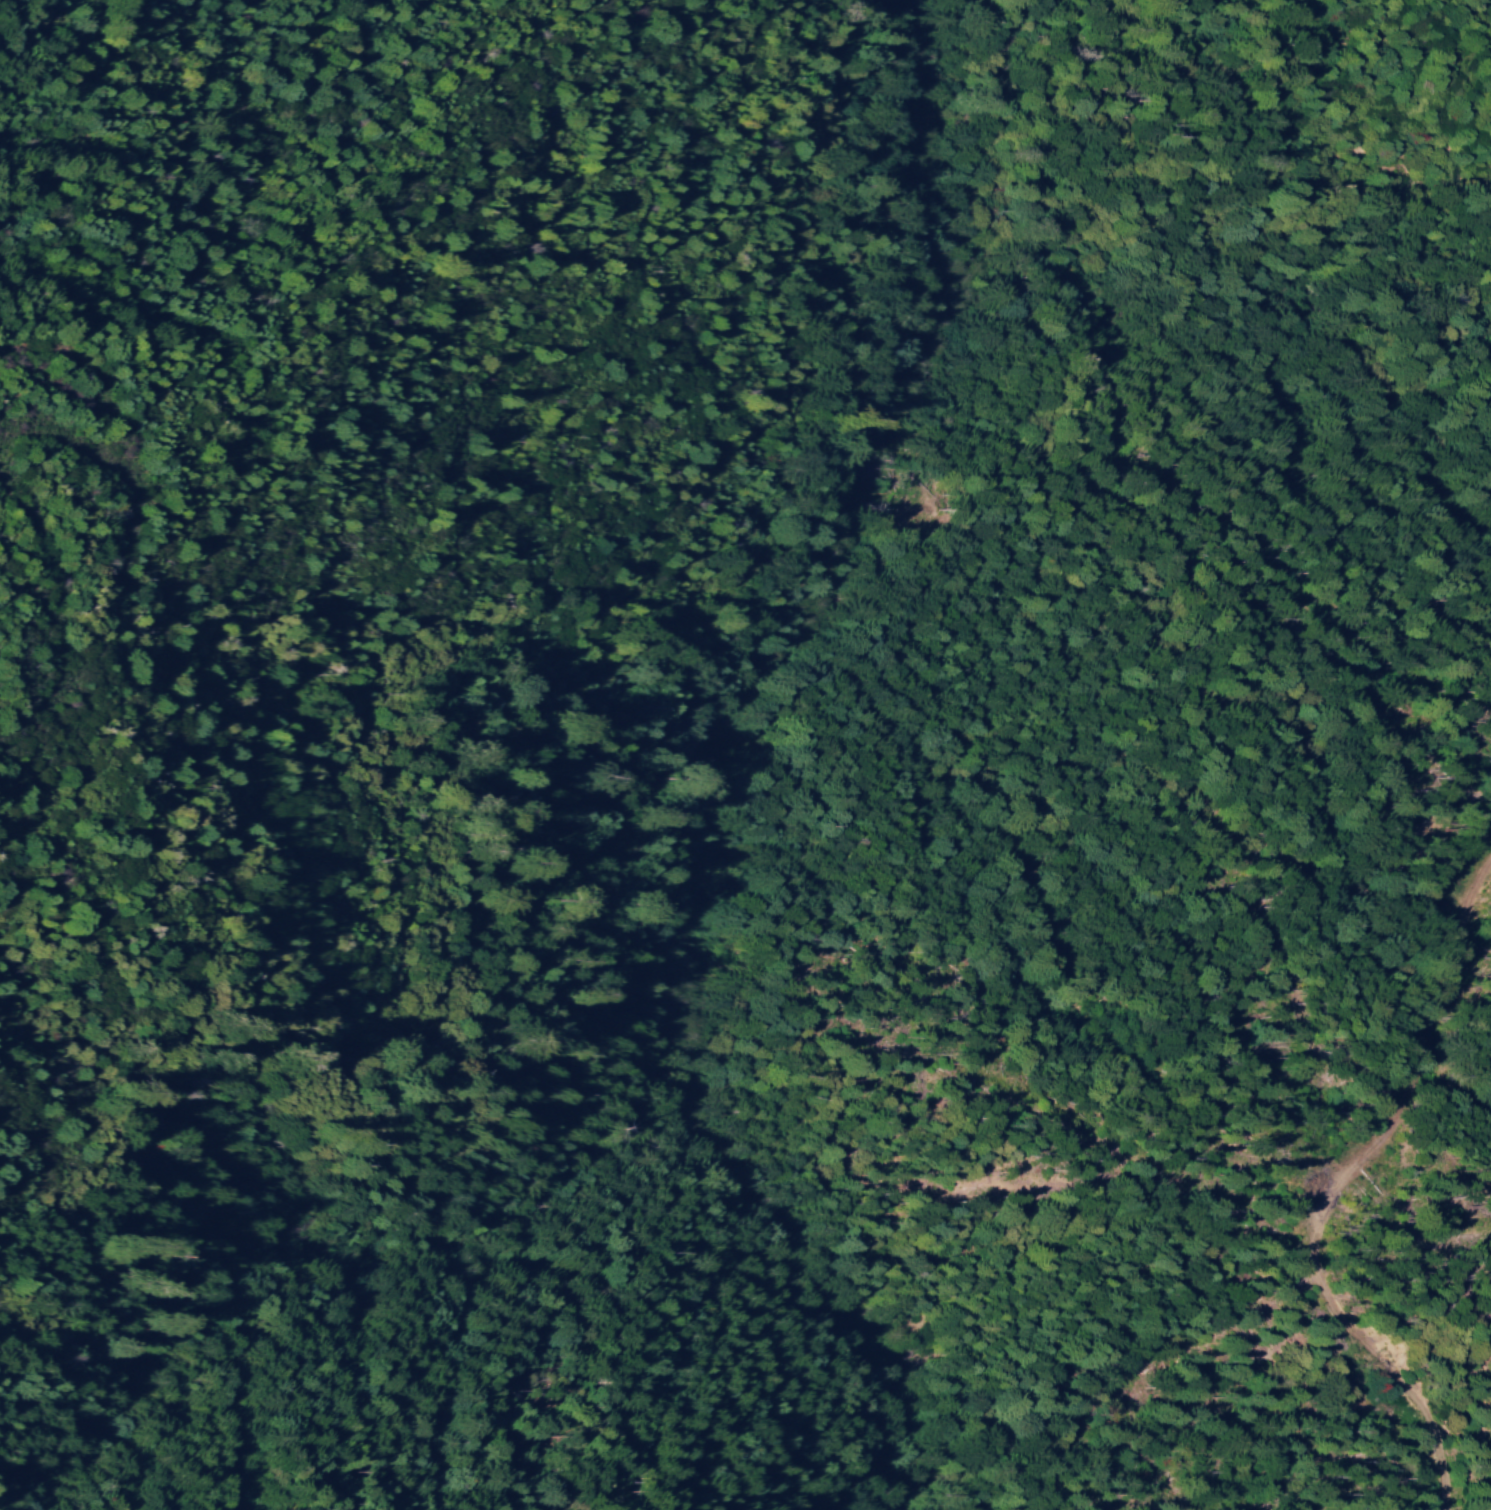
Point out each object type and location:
road: (1452, 1019)

